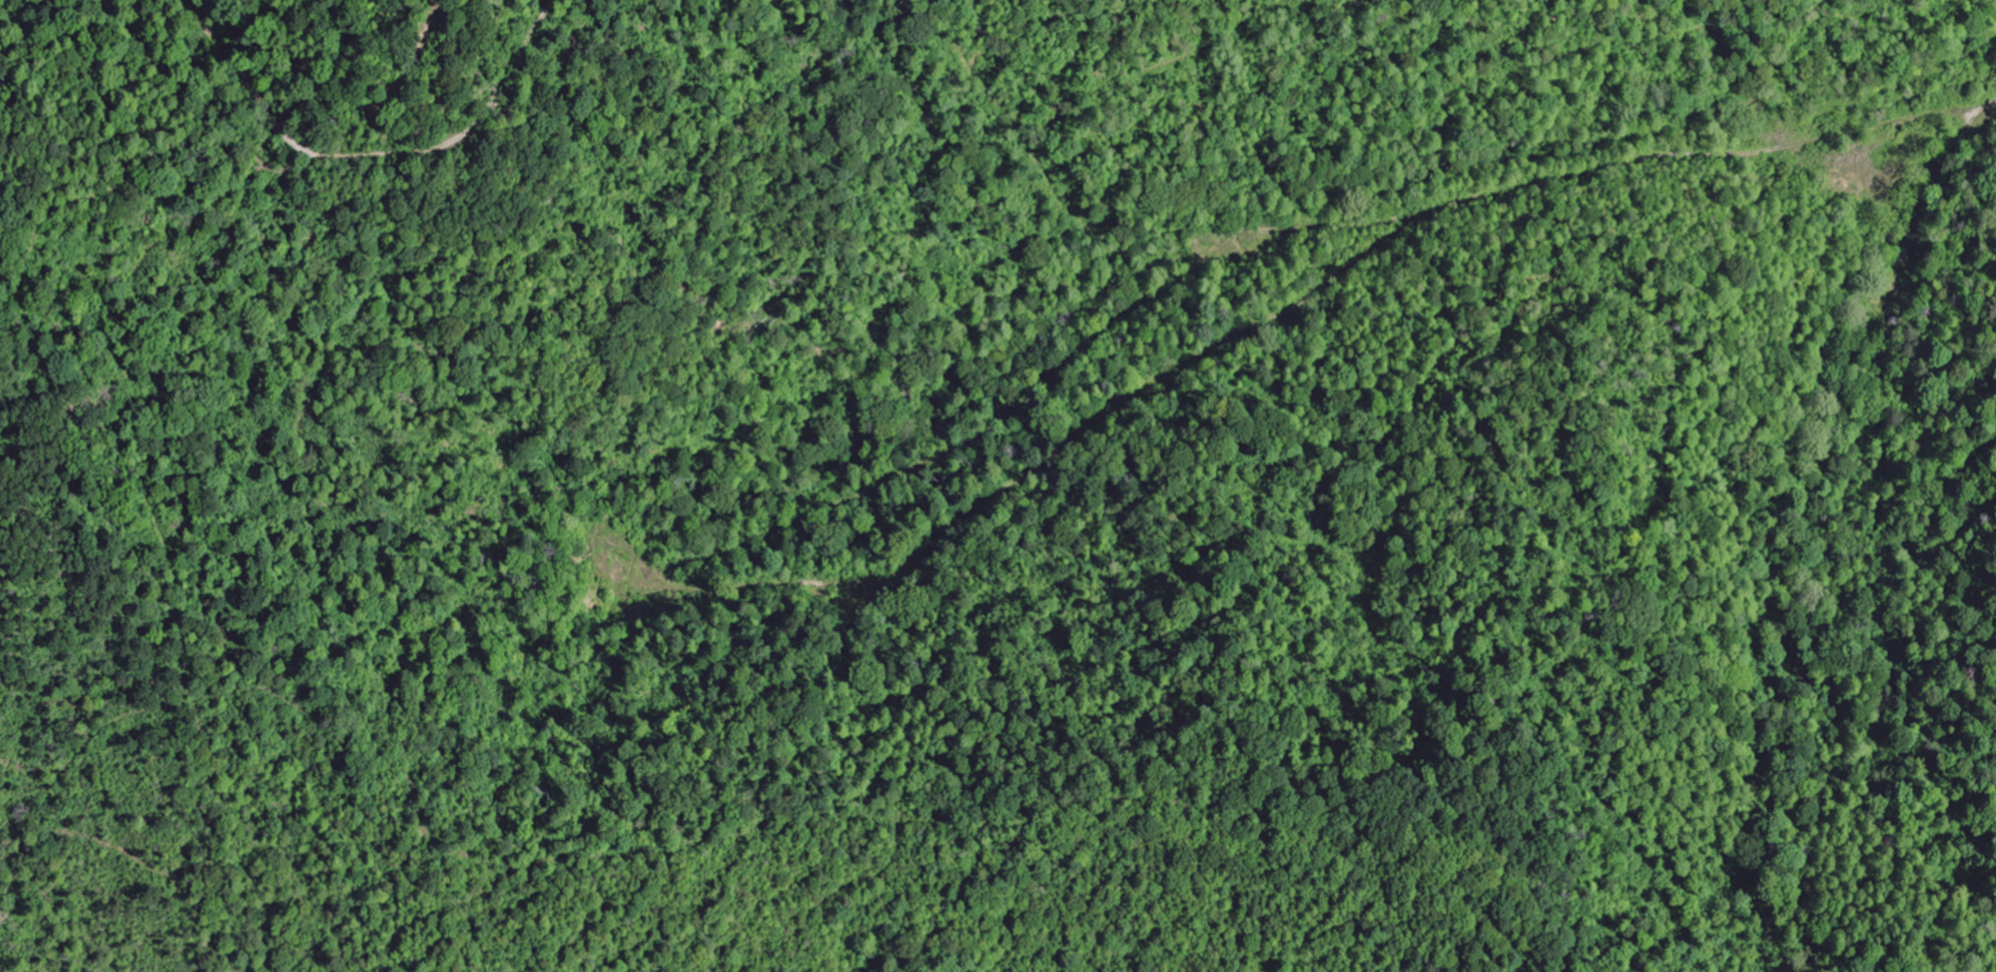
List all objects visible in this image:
road: (1950, 140)

